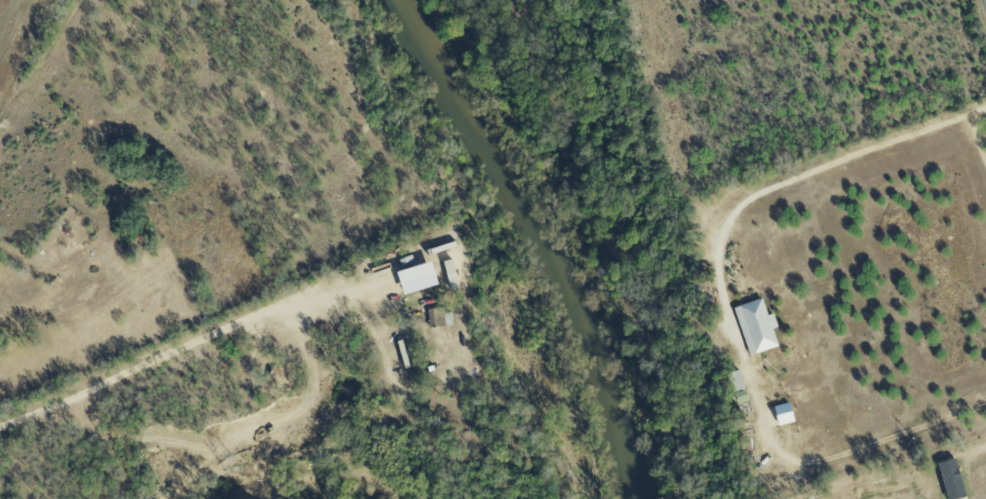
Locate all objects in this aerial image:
road: (985, 0)
road: (978, 112)
road: (978, 141)
river: (548, 236)
building: (412, 275)
road: (727, 316)
building: (439, 317)
building: (754, 325)
road: (150, 361)
building: (735, 385)
road: (979, 459)

